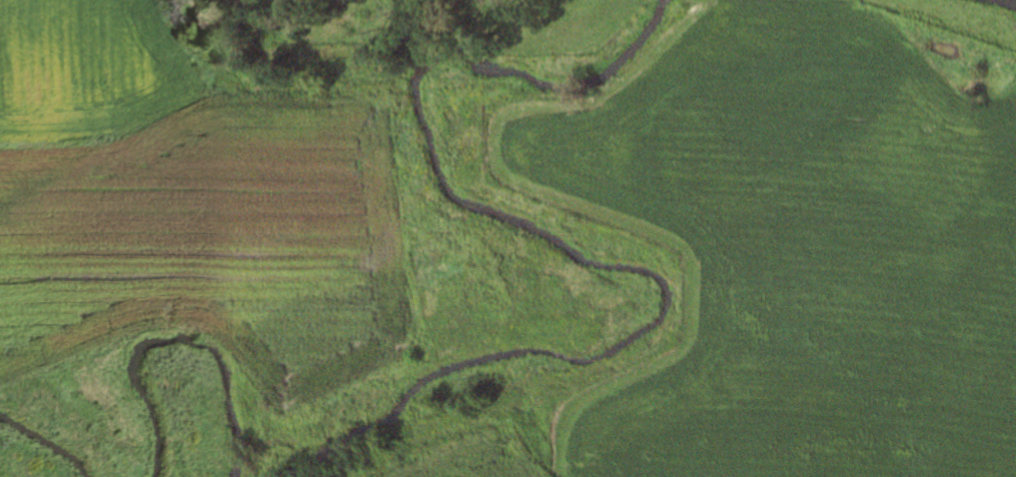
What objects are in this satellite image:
river: (1011, 1)
river: (569, 250)
river: (173, 332)
river: (42, 446)

